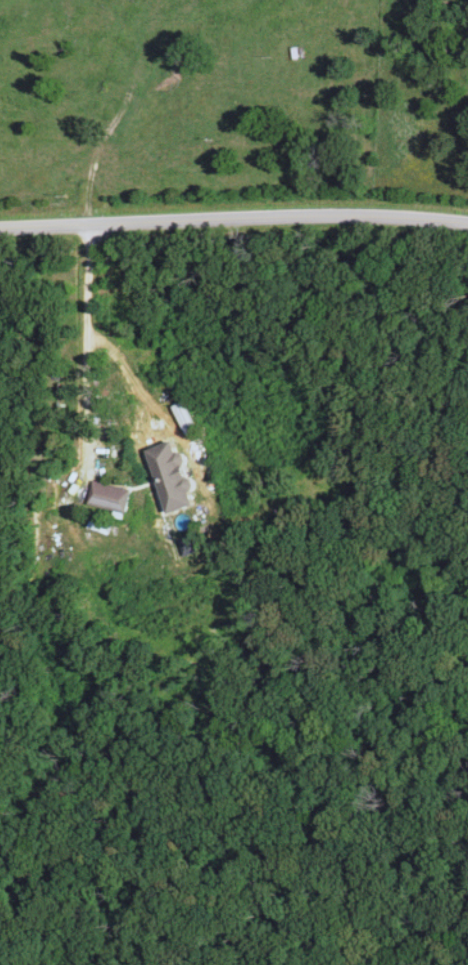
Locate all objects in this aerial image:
road: (234, 217)
building: (173, 478)
road: (202, 490)
building: (110, 500)

